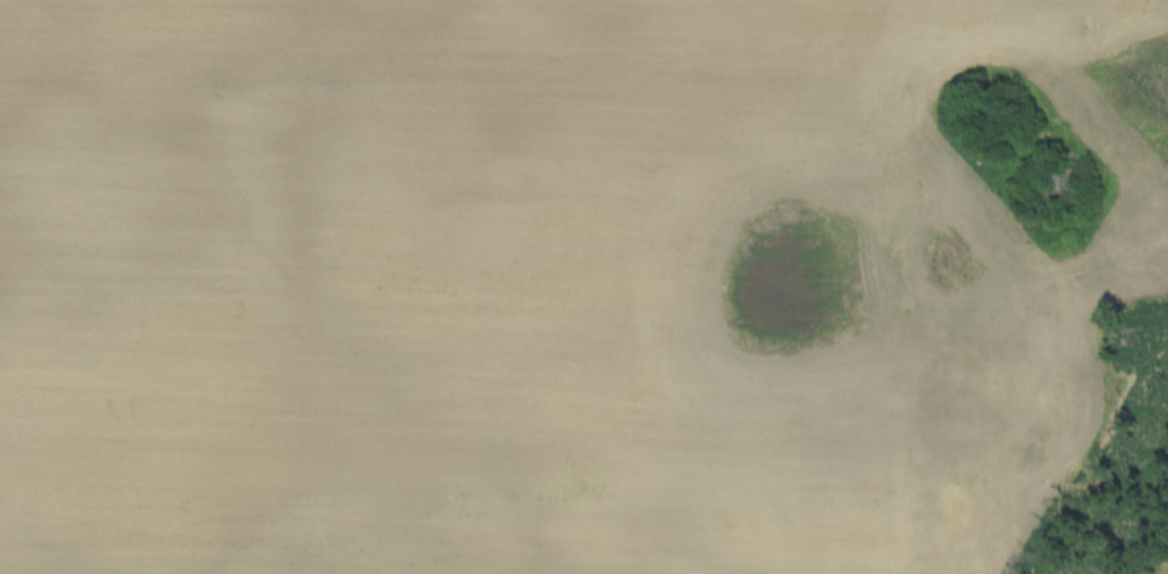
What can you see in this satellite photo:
building: (1063, 181)

